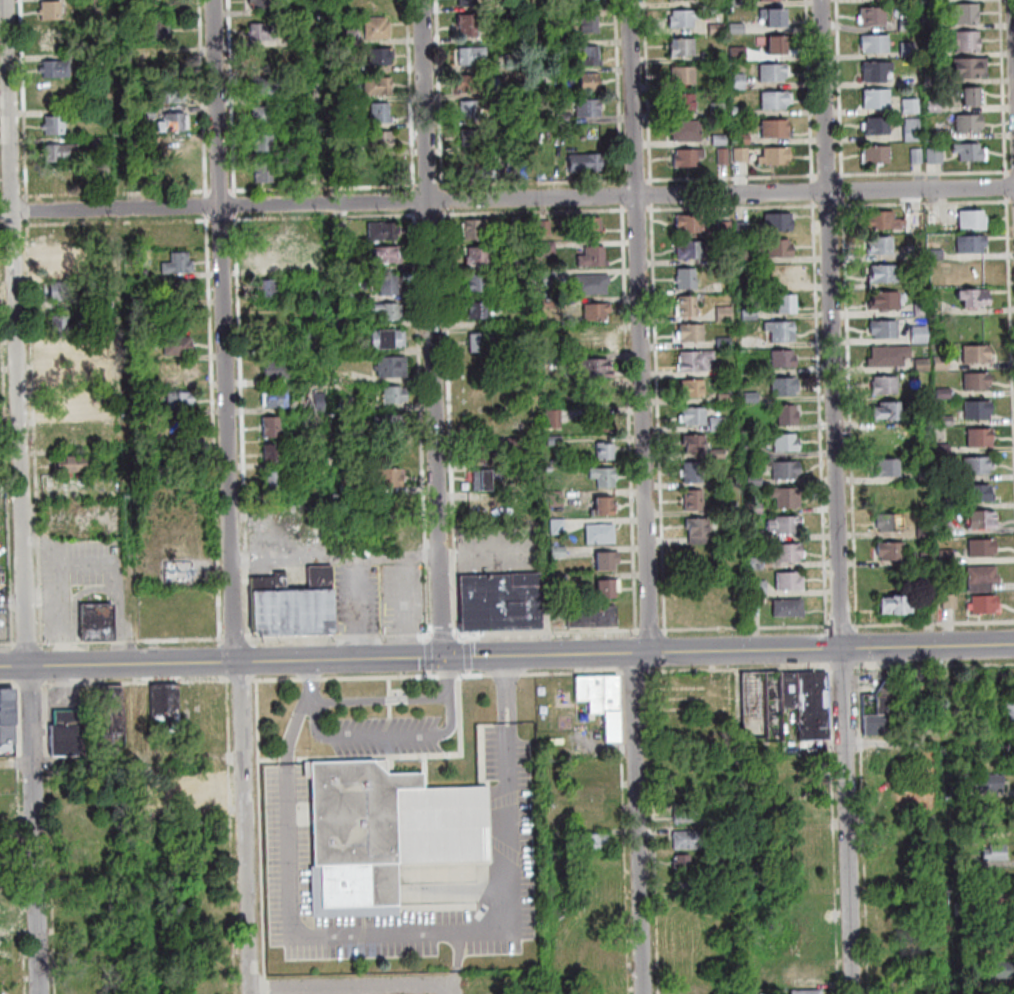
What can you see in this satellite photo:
building: (682, 1)
building: (773, 1)
building: (908, 1)
building: (934, 1)
building: (719, 3)
building: (469, 4)
building: (591, 4)
building: (737, 4)
building: (258, 5)
building: (52, 13)
building: (966, 16)
building: (874, 19)
building: (685, 20)
building: (775, 20)
building: (930, 24)
building: (592, 26)
building: (909, 26)
building: (469, 28)
building: (738, 29)
building: (379, 30)
building: (719, 30)
building: (157, 32)
building: (265, 34)
building: (353, 38)
building: (308, 39)
building: (50, 40)
building: (968, 43)
building: (876, 46)
building: (561, 47)
building: (776, 47)
building: (684, 49)
building: (909, 50)
building: (935, 52)
building: (740, 54)
building: (592, 57)
building: (711, 57)
building: (474, 58)
building: (127, 59)
building: (382, 59)
building: (264, 60)
building: (97, 61)
building: (515, 62)
building: (167, 64)
building: (58, 71)
building: (971, 71)
building: (877, 73)
building: (776, 75)
building: (935, 75)
building: (685, 78)
building: (911, 79)
building: (591, 83)
building: (739, 83)
building: (475, 85)
building: (267, 89)
building: (381, 90)
building: (173, 97)
building: (878, 101)
building: (972, 101)
building: (777, 102)
building: (687, 105)
building: (936, 107)
building: (912, 108)
building: (589, 110)
building: (472, 111)
building: (719, 112)
building: (740, 112)
building: (148, 114)
building: (382, 116)
building: (264, 117)
building: (566, 118)
building: (175, 125)
building: (970, 125)
building: (296, 127)
building: (56, 128)
building: (878, 129)
building: (777, 131)
building: (913, 131)
building: (687, 133)
building: (944, 136)
building: (471, 139)
building: (721, 140)
building: (744, 141)
building: (383, 142)
building: (102, 145)
building: (264, 145)
building: (62, 155)
building: (972, 155)
building: (742, 156)
building: (918, 157)
building: (937, 157)
building: (724, 158)
building: (877, 158)
building: (777, 159)
building: (689, 160)
building: (588, 164)
building: (477, 170)
building: (384, 173)
building: (522, 174)
building: (265, 175)
road: (506, 199)
building: (882, 218)
building: (972, 218)
building: (779, 221)
building: (918, 221)
building: (692, 223)
building: (522, 225)
building: (592, 225)
building: (546, 226)
building: (473, 227)
building: (724, 228)
building: (383, 229)
building: (744, 229)
building: (971, 242)
building: (881, 244)
building: (780, 246)
building: (548, 247)
building: (691, 248)
building: (388, 252)
building: (480, 253)
building: (936, 254)
building: (594, 255)
building: (748, 257)
building: (267, 258)
building: (178, 261)
building: (520, 261)
building: (68, 264)
building: (343, 267)
building: (314, 268)
building: (145, 272)
building: (884, 272)
building: (686, 277)
building: (549, 278)
building: (477, 281)
building: (592, 282)
building: (391, 284)
building: (268, 286)
building: (181, 287)
building: (64, 290)
building: (312, 294)
building: (974, 295)
building: (888, 299)
building: (550, 302)
building: (786, 304)
building: (688, 305)
building: (305, 308)
building: (478, 308)
building: (937, 308)
building: (390, 309)
building: (597, 309)
building: (921, 309)
building: (94, 312)
building: (724, 313)
building: (750, 314)
building: (345, 322)
building: (66, 324)
road: (641, 326)
road: (436, 328)
building: (885, 328)
building: (782, 331)
building: (691, 332)
building: (920, 334)
building: (385, 337)
building: (592, 338)
building: (94, 339)
building: (481, 340)
building: (302, 341)
building: (724, 342)
building: (179, 343)
building: (65, 349)
building: (349, 349)
building: (976, 353)
building: (889, 354)
building: (783, 358)
building: (697, 359)
building: (941, 363)
building: (923, 364)
building: (392, 365)
building: (110, 367)
building: (596, 367)
building: (278, 368)
building: (178, 373)
building: (63, 378)
building: (977, 380)
building: (885, 384)
building: (784, 385)
building: (694, 389)
building: (395, 392)
building: (944, 393)
building: (96, 396)
building: (275, 397)
building: (752, 397)
building: (181, 398)
building: (725, 398)
building: (316, 401)
building: (347, 403)
building: (65, 404)
building: (140, 408)
building: (887, 408)
building: (977, 409)
building: (694, 415)
building: (788, 415)
building: (554, 417)
building: (946, 421)
building: (603, 422)
building: (389, 423)
building: (718, 425)
building: (271, 426)
building: (348, 432)
road: (36, 435)
building: (980, 436)
building: (555, 440)
building: (515, 441)
building: (696, 443)
building: (787, 443)
building: (943, 448)
building: (605, 449)
building: (273, 453)
building: (485, 453)
building: (753, 453)
building: (718, 454)
building: (71, 461)
building: (977, 464)
building: (889, 466)
building: (923, 468)
building: (528, 469)
building: (786, 469)
building: (692, 471)
building: (604, 475)
building: (948, 475)
building: (390, 476)
building: (487, 476)
building: (275, 481)
building: (754, 481)
building: (728, 482)
building: (350, 487)
building: (978, 492)
building: (887, 494)
road: (22, 497)
road: (232, 497)
road: (839, 497)
building: (556, 498)
building: (786, 498)
building: (693, 499)
building: (604, 503)
building: (944, 503)
building: (757, 509)
building: (981, 518)
building: (889, 521)
building: (785, 524)
building: (558, 526)
building: (698, 529)
building: (925, 529)
building: (945, 530)
building: (382, 531)
building: (601, 532)
building: (756, 536)
building: (982, 546)
building: (891, 550)
building: (559, 551)
building: (788, 553)
building: (947, 556)
building: (928, 558)
building: (608, 559)
building: (756, 563)
building: (180, 570)
building: (982, 578)
building: (561, 580)
building: (790, 581)
building: (608, 586)
building: (758, 588)
building: (950, 600)
building: (501, 601)
building: (895, 603)
building: (985, 603)
building: (295, 604)
building: (788, 606)
building: (593, 615)
building: (99, 620)
road: (734, 628)
road: (444, 634)
road: (340, 637)
road: (235, 639)
road: (133, 641)
road: (30, 644)
road: (8, 645)
road: (507, 656)
traffic signals: (445, 658)
road: (935, 666)
road: (845, 668)
road: (740, 670)
road: (633, 672)
road: (437, 676)
road: (447, 678)
road: (243, 681)
road: (314, 681)
road: (137, 682)
building: (914, 684)
road: (9, 685)
road: (32, 685)
road: (381, 700)
building: (602, 700)
building: (145, 702)
building: (758, 702)
building: (808, 703)
building: (167, 705)
building: (113, 706)
building: (1010, 712)
building: (132, 713)
building: (882, 713)
building: (7, 714)
road: (19, 723)
road: (296, 728)
building: (1011, 731)
building: (68, 734)
parking lot: (388, 736)
road: (385, 737)
road: (229, 738)
building: (105, 744)
road: (886, 744)
road: (620, 747)
building: (8, 753)
road: (122, 760)
building: (589, 767)
building: (990, 783)
building: (960, 791)
building: (592, 794)
road: (239, 795)
building: (198, 799)
building: (685, 813)
building: (592, 818)
road: (638, 823)
parking lot: (289, 826)
road: (262, 830)
road: (865, 830)
building: (385, 831)
road: (834, 831)
road: (656, 833)
building: (901, 838)
building: (689, 839)
building: (595, 842)
building: (732, 842)
building: (995, 853)
building: (959, 859)
building: (593, 860)
building: (723, 861)
building: (683, 863)
road: (626, 870)
road: (456, 875)
building: (688, 883)
building: (995, 900)
building: (962, 909)
road: (454, 932)
building: (896, 939)
building: (1000, 947)
building: (595, 954)
road: (459, 959)
building: (1001, 971)
road: (267, 986)
road: (354, 990)
road: (455, 990)
building: (807, 992)

